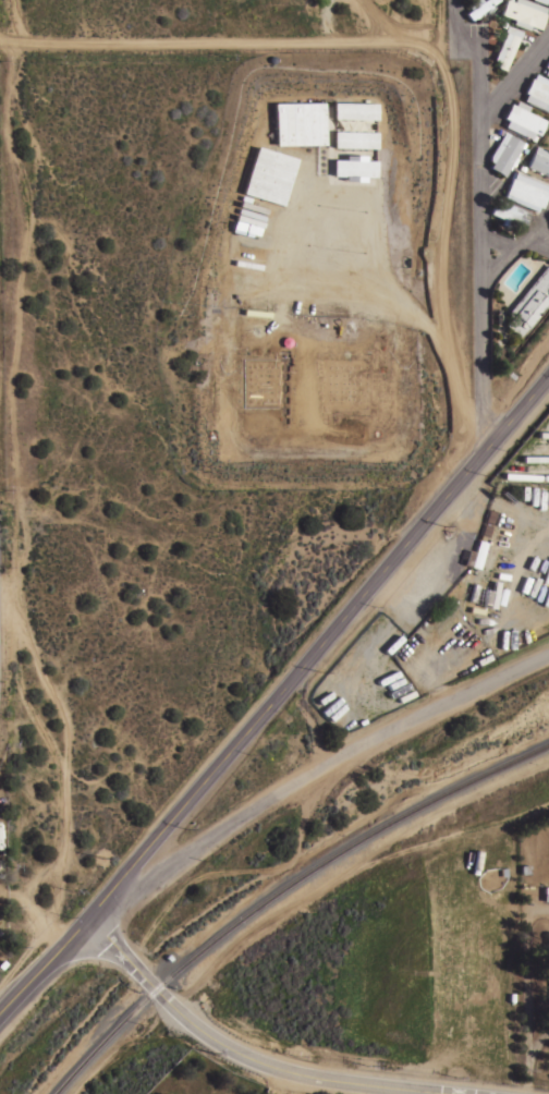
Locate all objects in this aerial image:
building: (544, 1)
building: (477, 7)
building: (524, 12)
road: (15, 21)
road: (228, 42)
building: (503, 50)
building: (546, 68)
road: (514, 78)
building: (537, 92)
building: (352, 110)
building: (522, 120)
building: (300, 123)
building: (356, 125)
building: (352, 141)
building: (503, 153)
building: (539, 160)
building: (351, 168)
building: (269, 175)
building: (525, 190)
building: (508, 214)
road: (479, 216)
road: (441, 243)
road: (496, 243)
road: (514, 244)
road: (535, 244)
building: (528, 302)
building: (477, 552)
building: (446, 606)
road: (276, 695)
road: (312, 770)
railway: (281, 890)
building: (546, 892)
road: (271, 1059)
road: (278, 1079)
road: (441, 1090)

